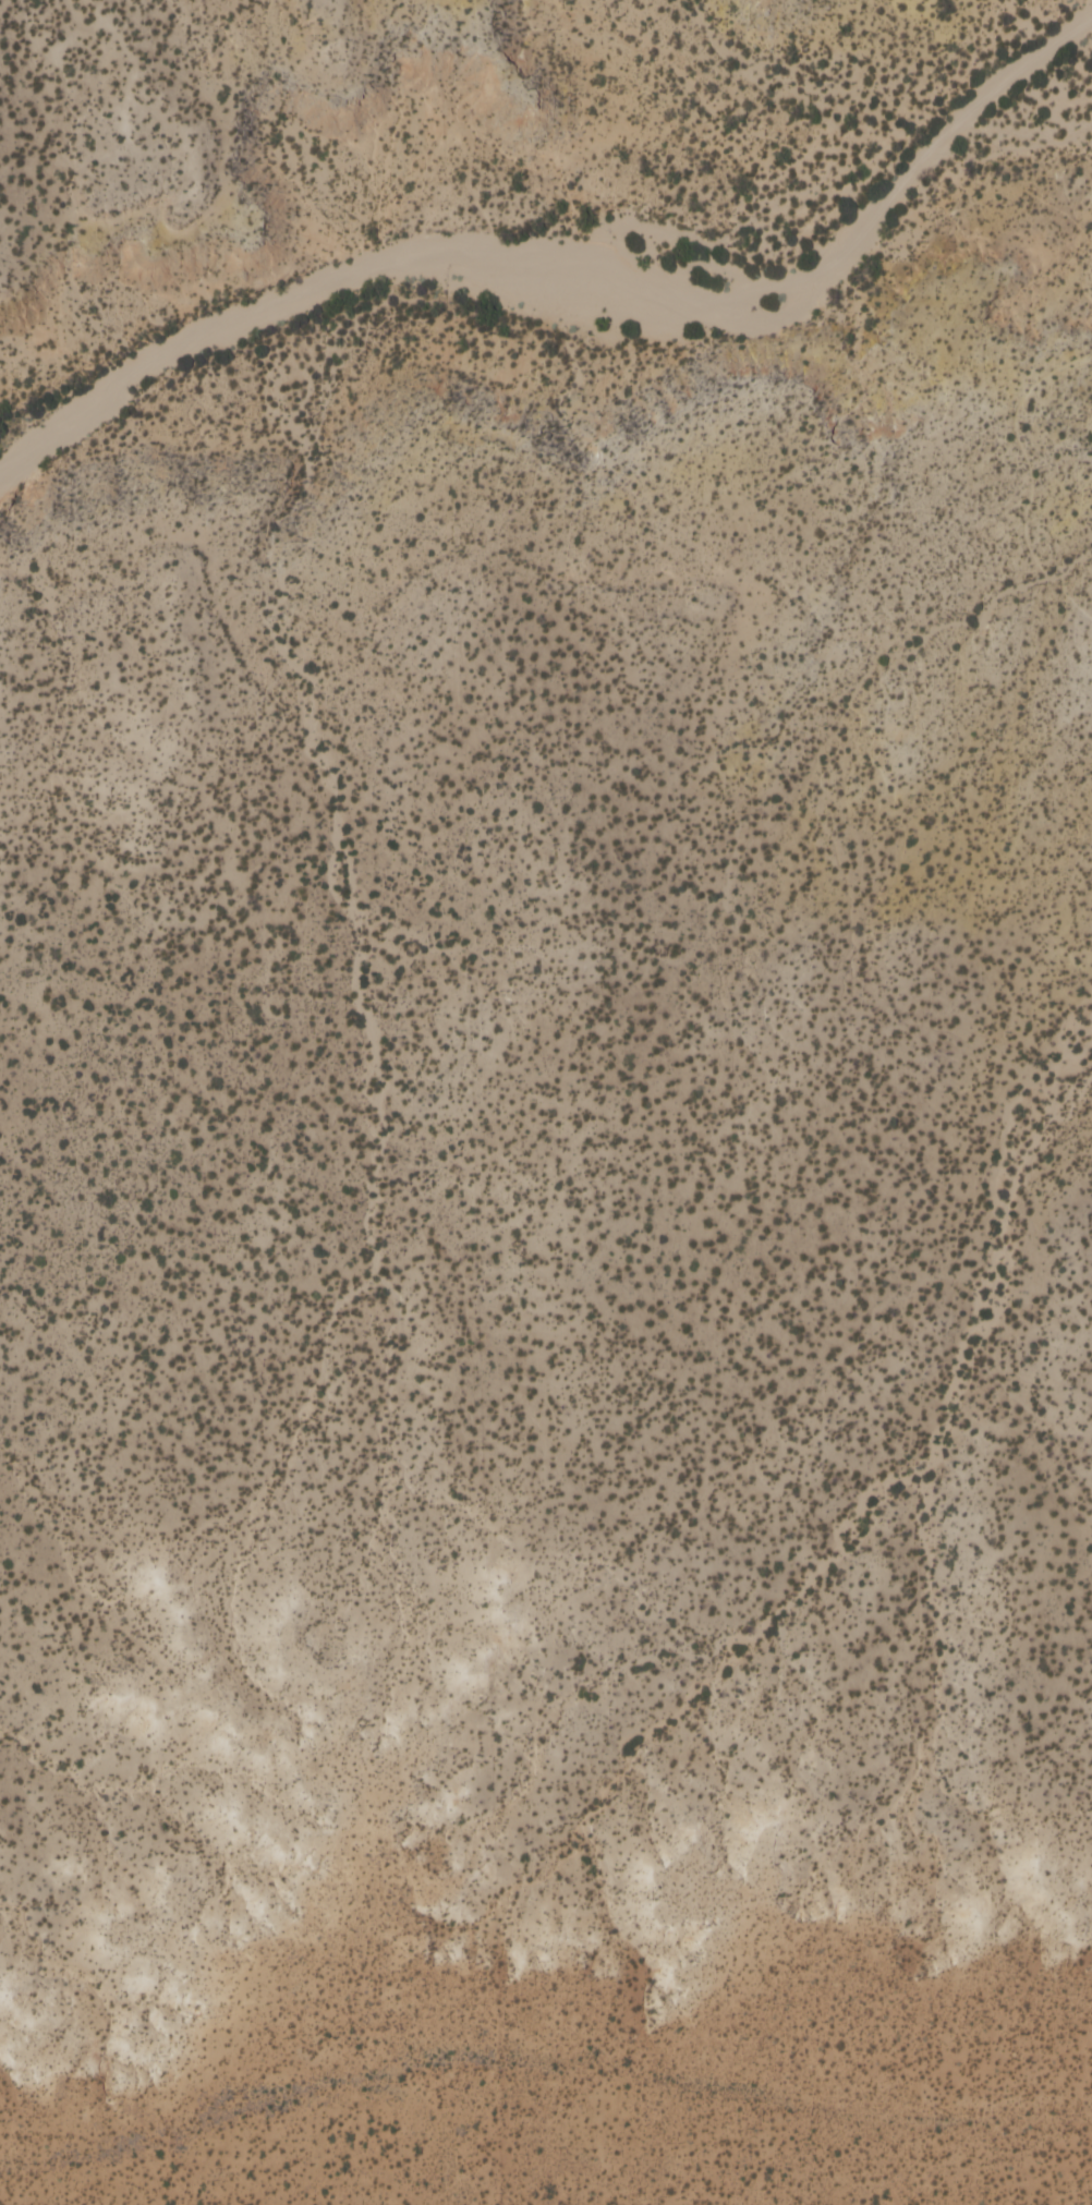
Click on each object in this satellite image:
road: (109, 31)
road: (150, 149)
road: (88, 156)
road: (218, 157)
road: (157, 202)

